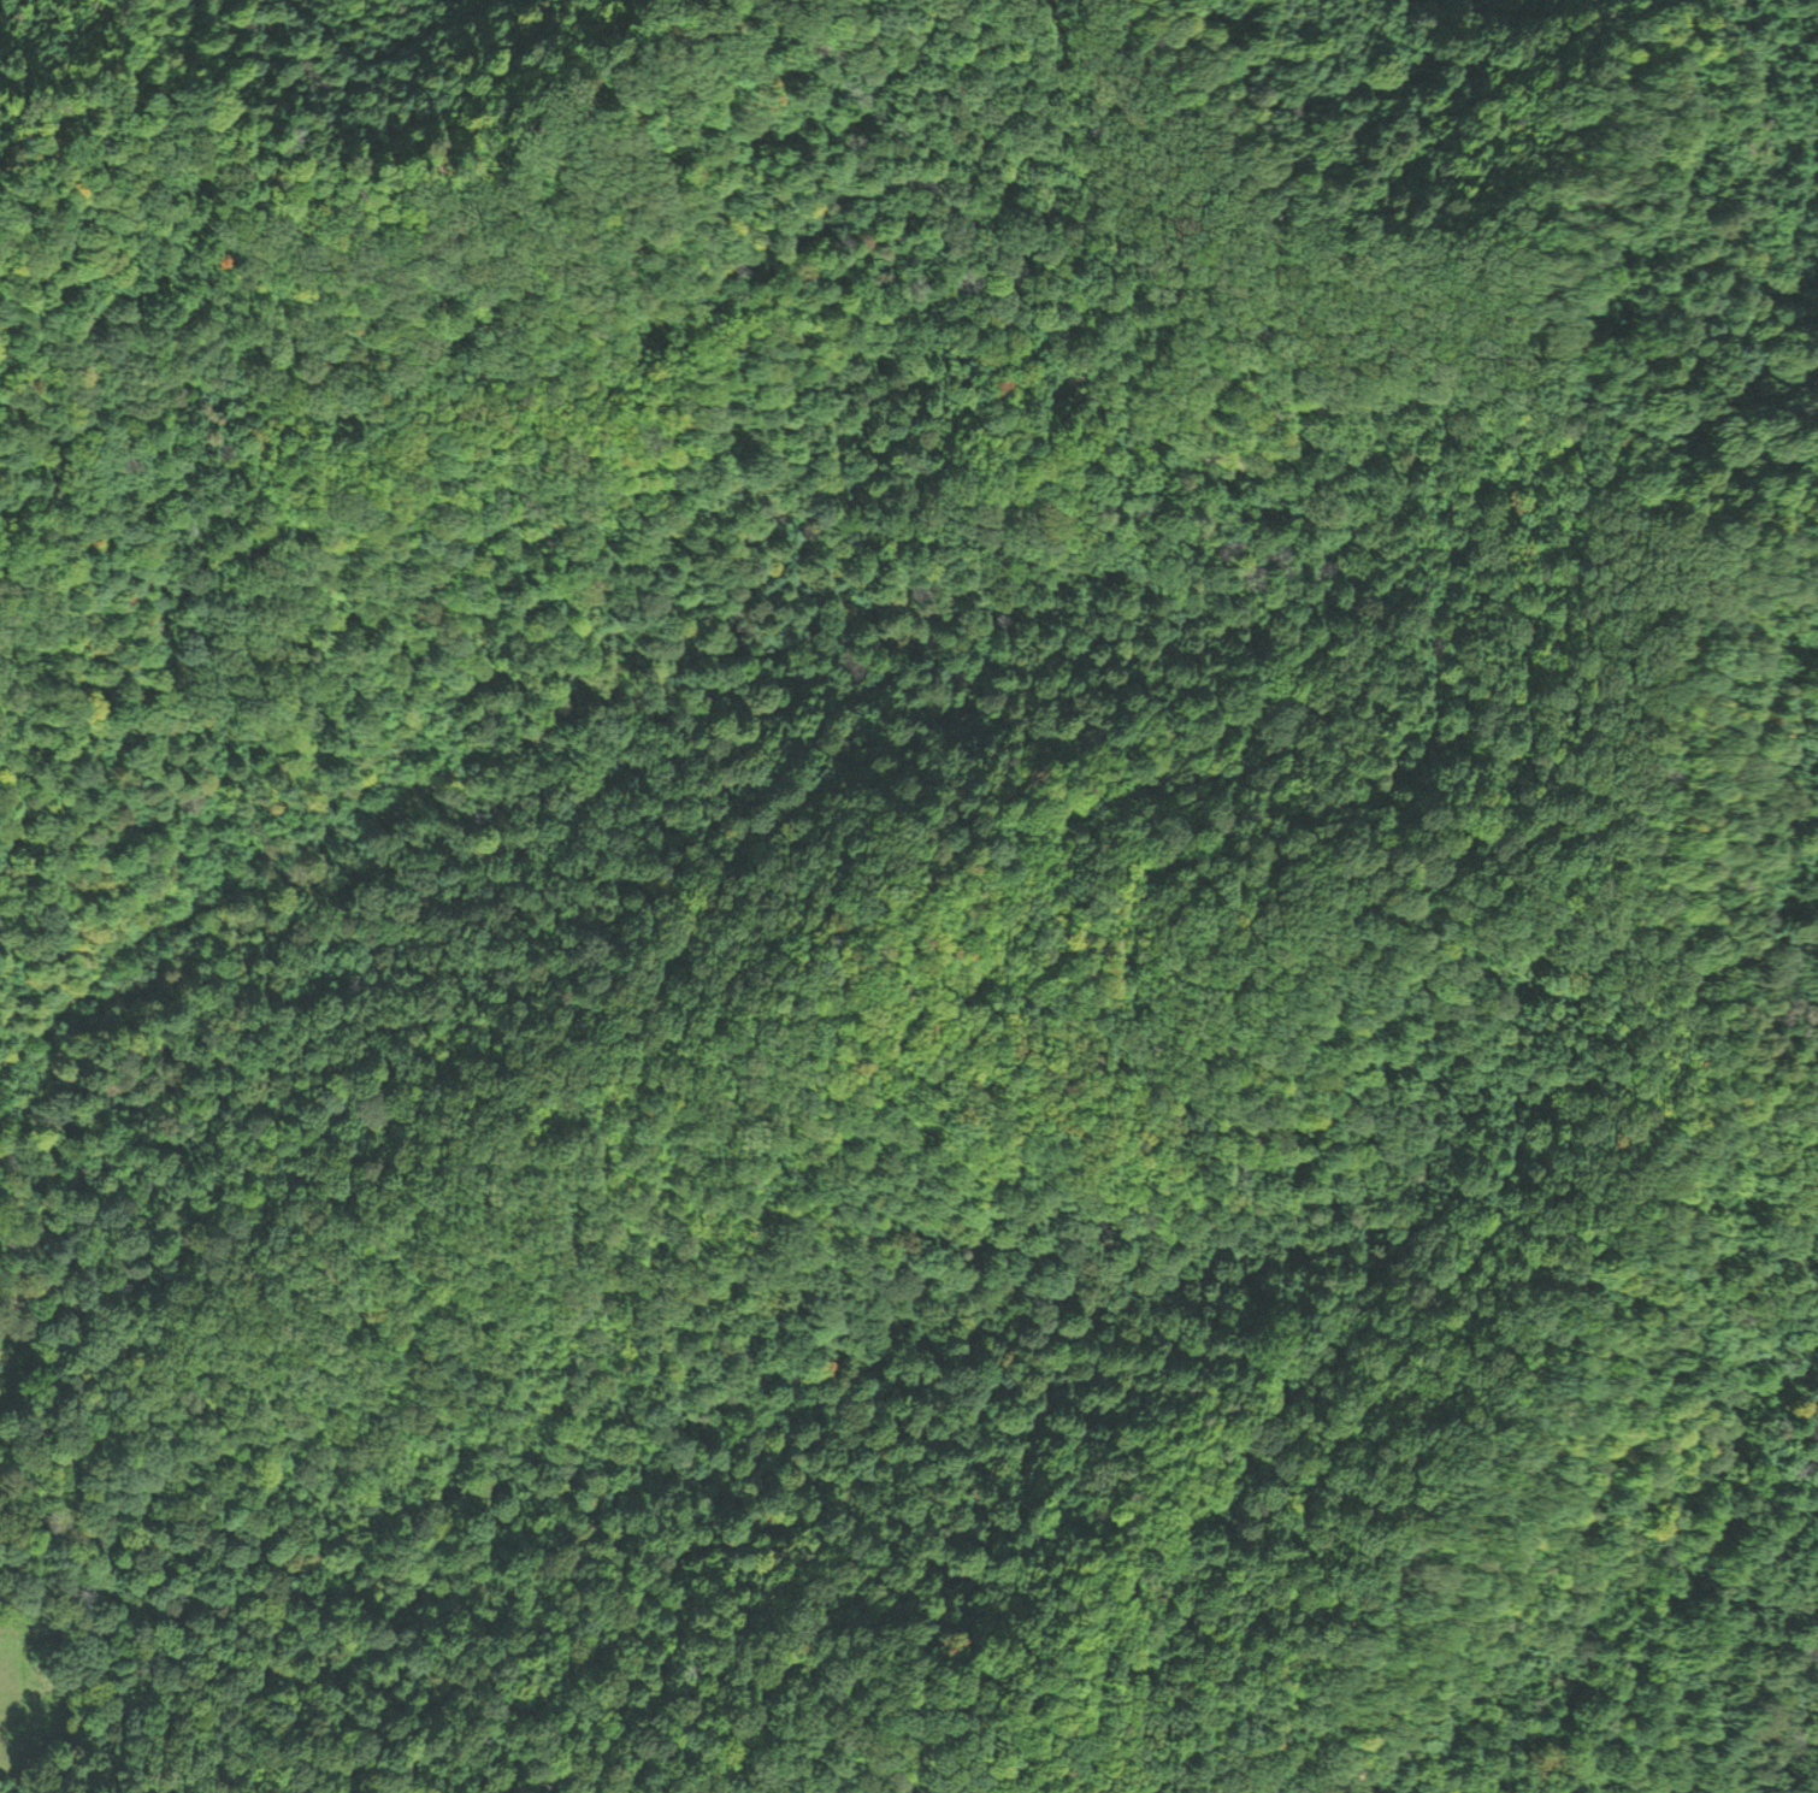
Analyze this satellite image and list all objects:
building: (621, 1668)

